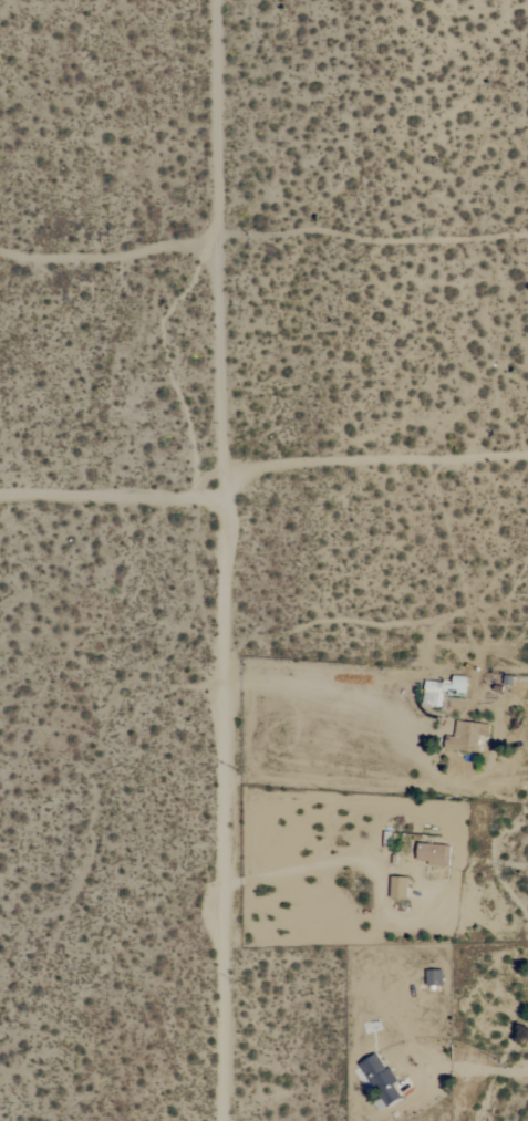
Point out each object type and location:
road: (219, 120)
road: (371, 461)
road: (111, 498)
road: (221, 679)
road: (311, 687)
building: (443, 689)
building: (467, 737)
building: (433, 854)
road: (292, 870)
building: (400, 888)
road: (494, 1067)
building: (381, 1079)

